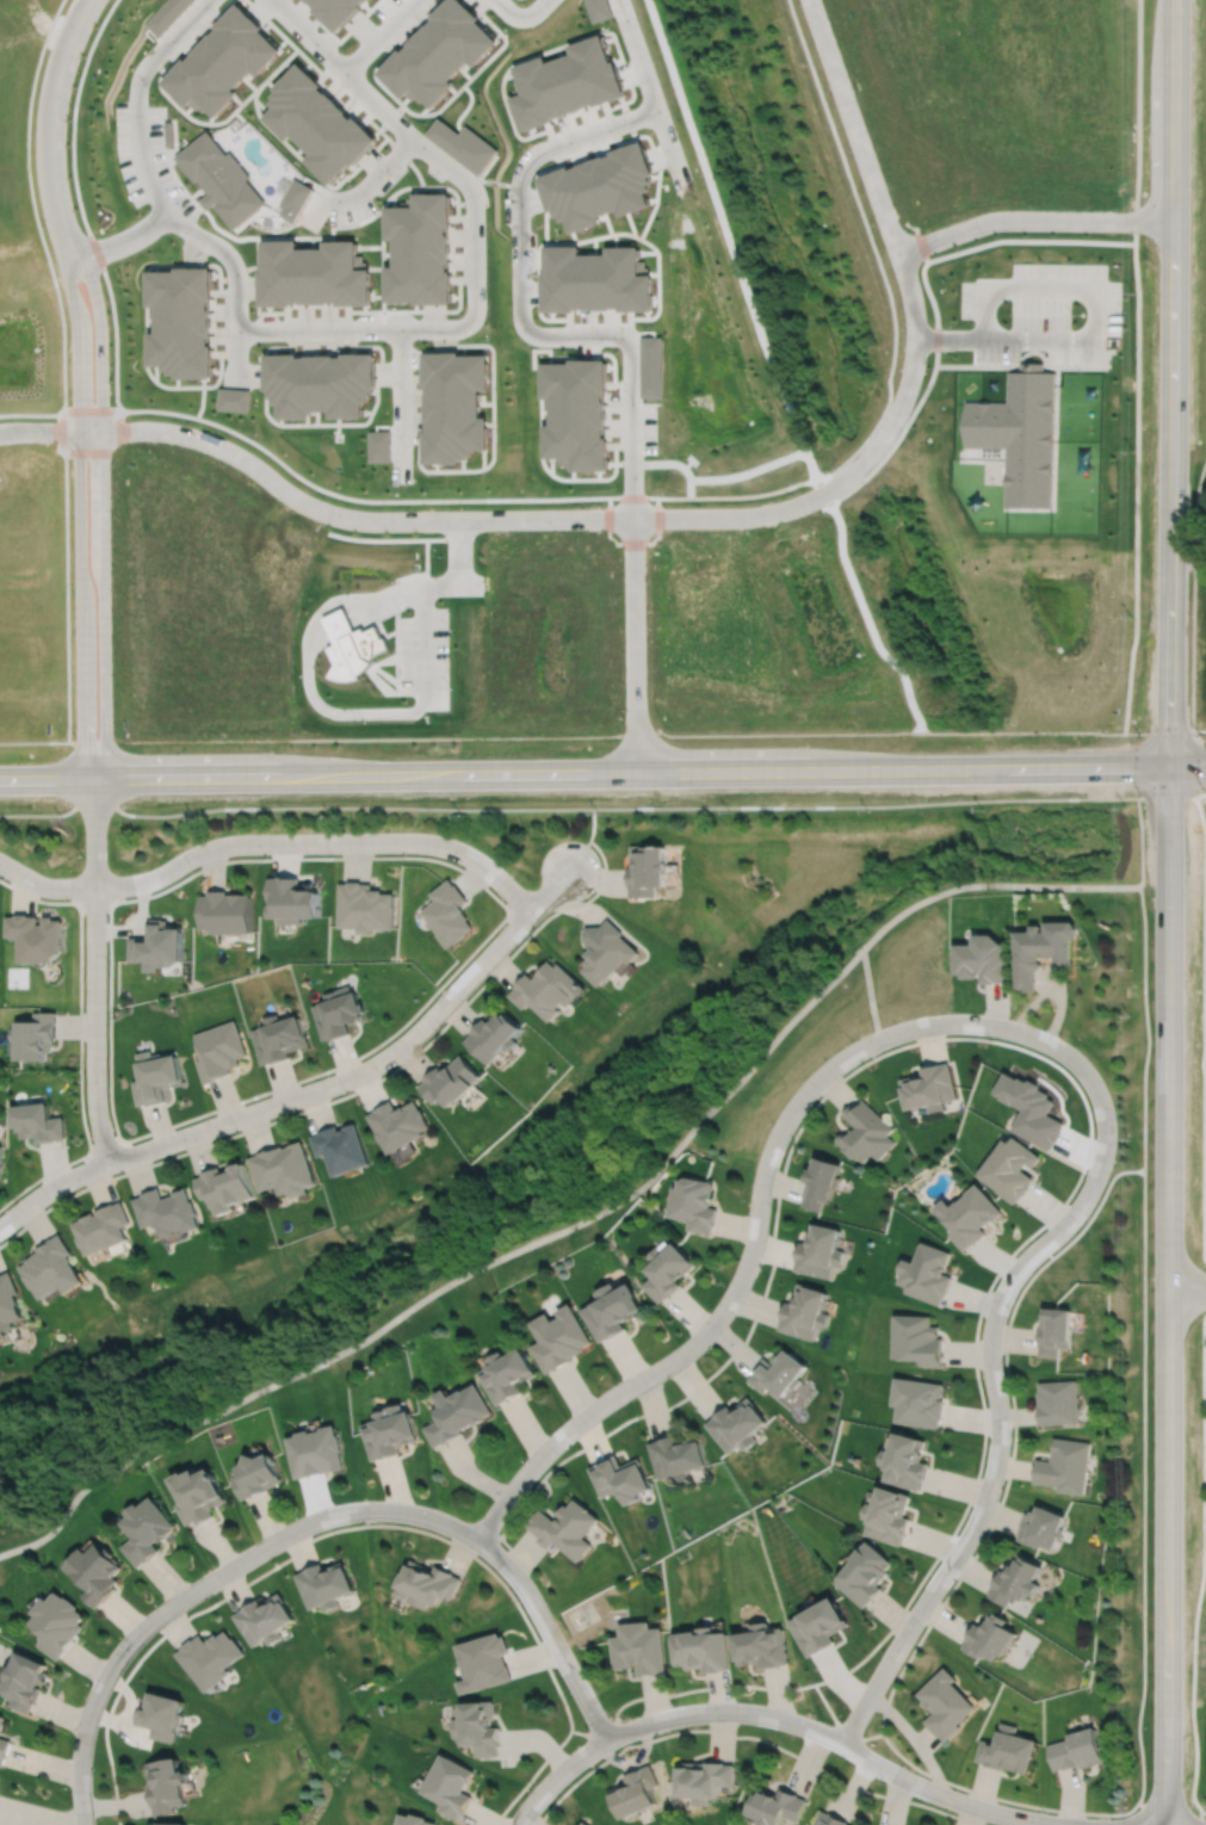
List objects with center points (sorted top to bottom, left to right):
building: (308, 0)
building: (599, 10)
building: (336, 11)
building: (163, 14)
road: (522, 16)
road: (381, 36)
building: (438, 54)
road: (638, 54)
building: (222, 62)
building: (565, 83)
road: (51, 109)
building: (317, 124)
building: (168, 132)
building: (463, 146)
road: (672, 149)
road: (376, 177)
building: (221, 180)
building: (600, 186)
road: (157, 194)
building: (296, 199)
road: (1033, 219)
road: (477, 230)
road: (119, 242)
building: (420, 252)
building: (313, 276)
building: (596, 279)
road: (932, 298)
road: (521, 315)
building: (179, 323)
road: (893, 324)
road: (1094, 328)
road: (320, 329)
road: (914, 351)
road: (63, 365)
road: (1137, 366)
road: (1171, 383)
building: (320, 386)
road: (116, 390)
building: (234, 398)
building: (456, 408)
building: (576, 413)
road: (31, 414)
road: (38, 431)
building: (1020, 435)
building: (379, 446)
road: (103, 495)
road: (78, 500)
road: (344, 516)
road: (1188, 556)
road: (1193, 592)
road: (635, 645)
road: (1200, 729)
road: (631, 736)
road: (33, 742)
road: (1187, 766)
road: (583, 773)
road: (314, 806)
road: (268, 842)
street lamp: (592, 846)
street lamp: (487, 853)
street lamp: (330, 854)
street lamp: (82, 855)
street lamp: (192, 870)
building: (649, 871)
street lamp: (2, 878)
building: (295, 901)
road: (94, 903)
building: (366, 908)
building: (227, 912)
building: (450, 914)
street lamp: (532, 926)
building: (38, 938)
building: (159, 946)
building: (608, 952)
building: (1044, 952)
building: (984, 960)
street lamp: (107, 963)
road: (94, 971)
building: (549, 990)
road: (870, 994)
street lamp: (957, 1010)
building: (340, 1013)
road: (404, 1022)
street lamp: (439, 1026)
street lamp: (1058, 1034)
building: (36, 1038)
building: (496, 1038)
road: (79, 1039)
building: (279, 1039)
street lamp: (851, 1039)
building: (219, 1051)
street lamp: (82, 1070)
building: (156, 1078)
building: (454, 1084)
building: (930, 1089)
road: (313, 1091)
street lamp: (346, 1091)
road: (350, 1094)
building: (1032, 1109)
street lamp: (1115, 1118)
street lamp: (772, 1122)
building: (38, 1124)
building: (400, 1126)
street lamp: (236, 1130)
building: (866, 1133)
road: (105, 1144)
building: (344, 1150)
building: (1, 1162)
street lamp: (119, 1170)
building: (1013, 1170)
building: (285, 1171)
building: (822, 1183)
building: (225, 1189)
street lamp: (746, 1199)
building: (693, 1201)
building: (167, 1213)
road: (582, 1218)
building: (971, 1218)
street lamp: (1080, 1226)
building: (103, 1230)
road: (755, 1232)
building: (821, 1248)
building: (50, 1266)
building: (668, 1268)
building: (929, 1270)
street lamp: (725, 1281)
road: (765, 1288)
road: (1187, 1288)
road: (1168, 1295)
building: (7, 1300)
building: (612, 1307)
building: (805, 1310)
street lamp: (1009, 1310)
building: (1056, 1329)
building: (558, 1336)
building: (920, 1338)
building: (780, 1371)
building: (507, 1372)
street lamp: (618, 1380)
road: (994, 1387)
building: (921, 1400)
building: (1059, 1400)
building: (456, 1411)
building: (737, 1423)
building: (390, 1430)
street lamp: (1010, 1434)
building: (315, 1449)
building: (676, 1455)
street lamp: (524, 1456)
building: (907, 1459)
building: (1066, 1465)
building: (256, 1474)
building: (620, 1477)
building: (197, 1493)
road: (1143, 1498)
street lamp: (433, 1507)
street lamp: (303, 1512)
building: (890, 1514)
road: (311, 1522)
road: (363, 1524)
building: (565, 1527)
building: (1043, 1527)
building: (143, 1528)
street lamp: (982, 1535)
road: (933, 1561)
building: (93, 1571)
building: (866, 1573)
building: (1016, 1579)
building: (428, 1583)
building: (324, 1584)
street lamp: (159, 1600)
street lamp: (518, 1600)
building: (264, 1619)
building: (55, 1622)
building: (821, 1625)
street lamp: (921, 1628)
building: (990, 1637)
building: (762, 1646)
building: (639, 1647)
building: (701, 1648)
building: (209, 1658)
building: (486, 1662)
building: (25, 1681)
street lamp: (88, 1681)
street lamp: (676, 1702)
building: (945, 1703)
street lamp: (605, 1709)
building: (160, 1715)
street lamp: (812, 1715)
road: (777, 1718)
road: (839, 1724)
building: (480, 1727)
road: (750, 1736)
building: (4, 1743)
building: (1008, 1750)
building: (1077, 1750)
building: (701, 1780)
street lamp: (883, 1782)
building: (166, 1786)
building: (450, 1786)
street lamp: (531, 1786)
street lamp: (68, 1788)
building: (632, 1793)
building: (775, 1807)
street lamp: (1043, 1811)
road: (1140, 1812)
road: (1200, 1814)
building: (828, 1819)
building: (414, 1820)
building: (174, 1823)
building: (582, 1823)

